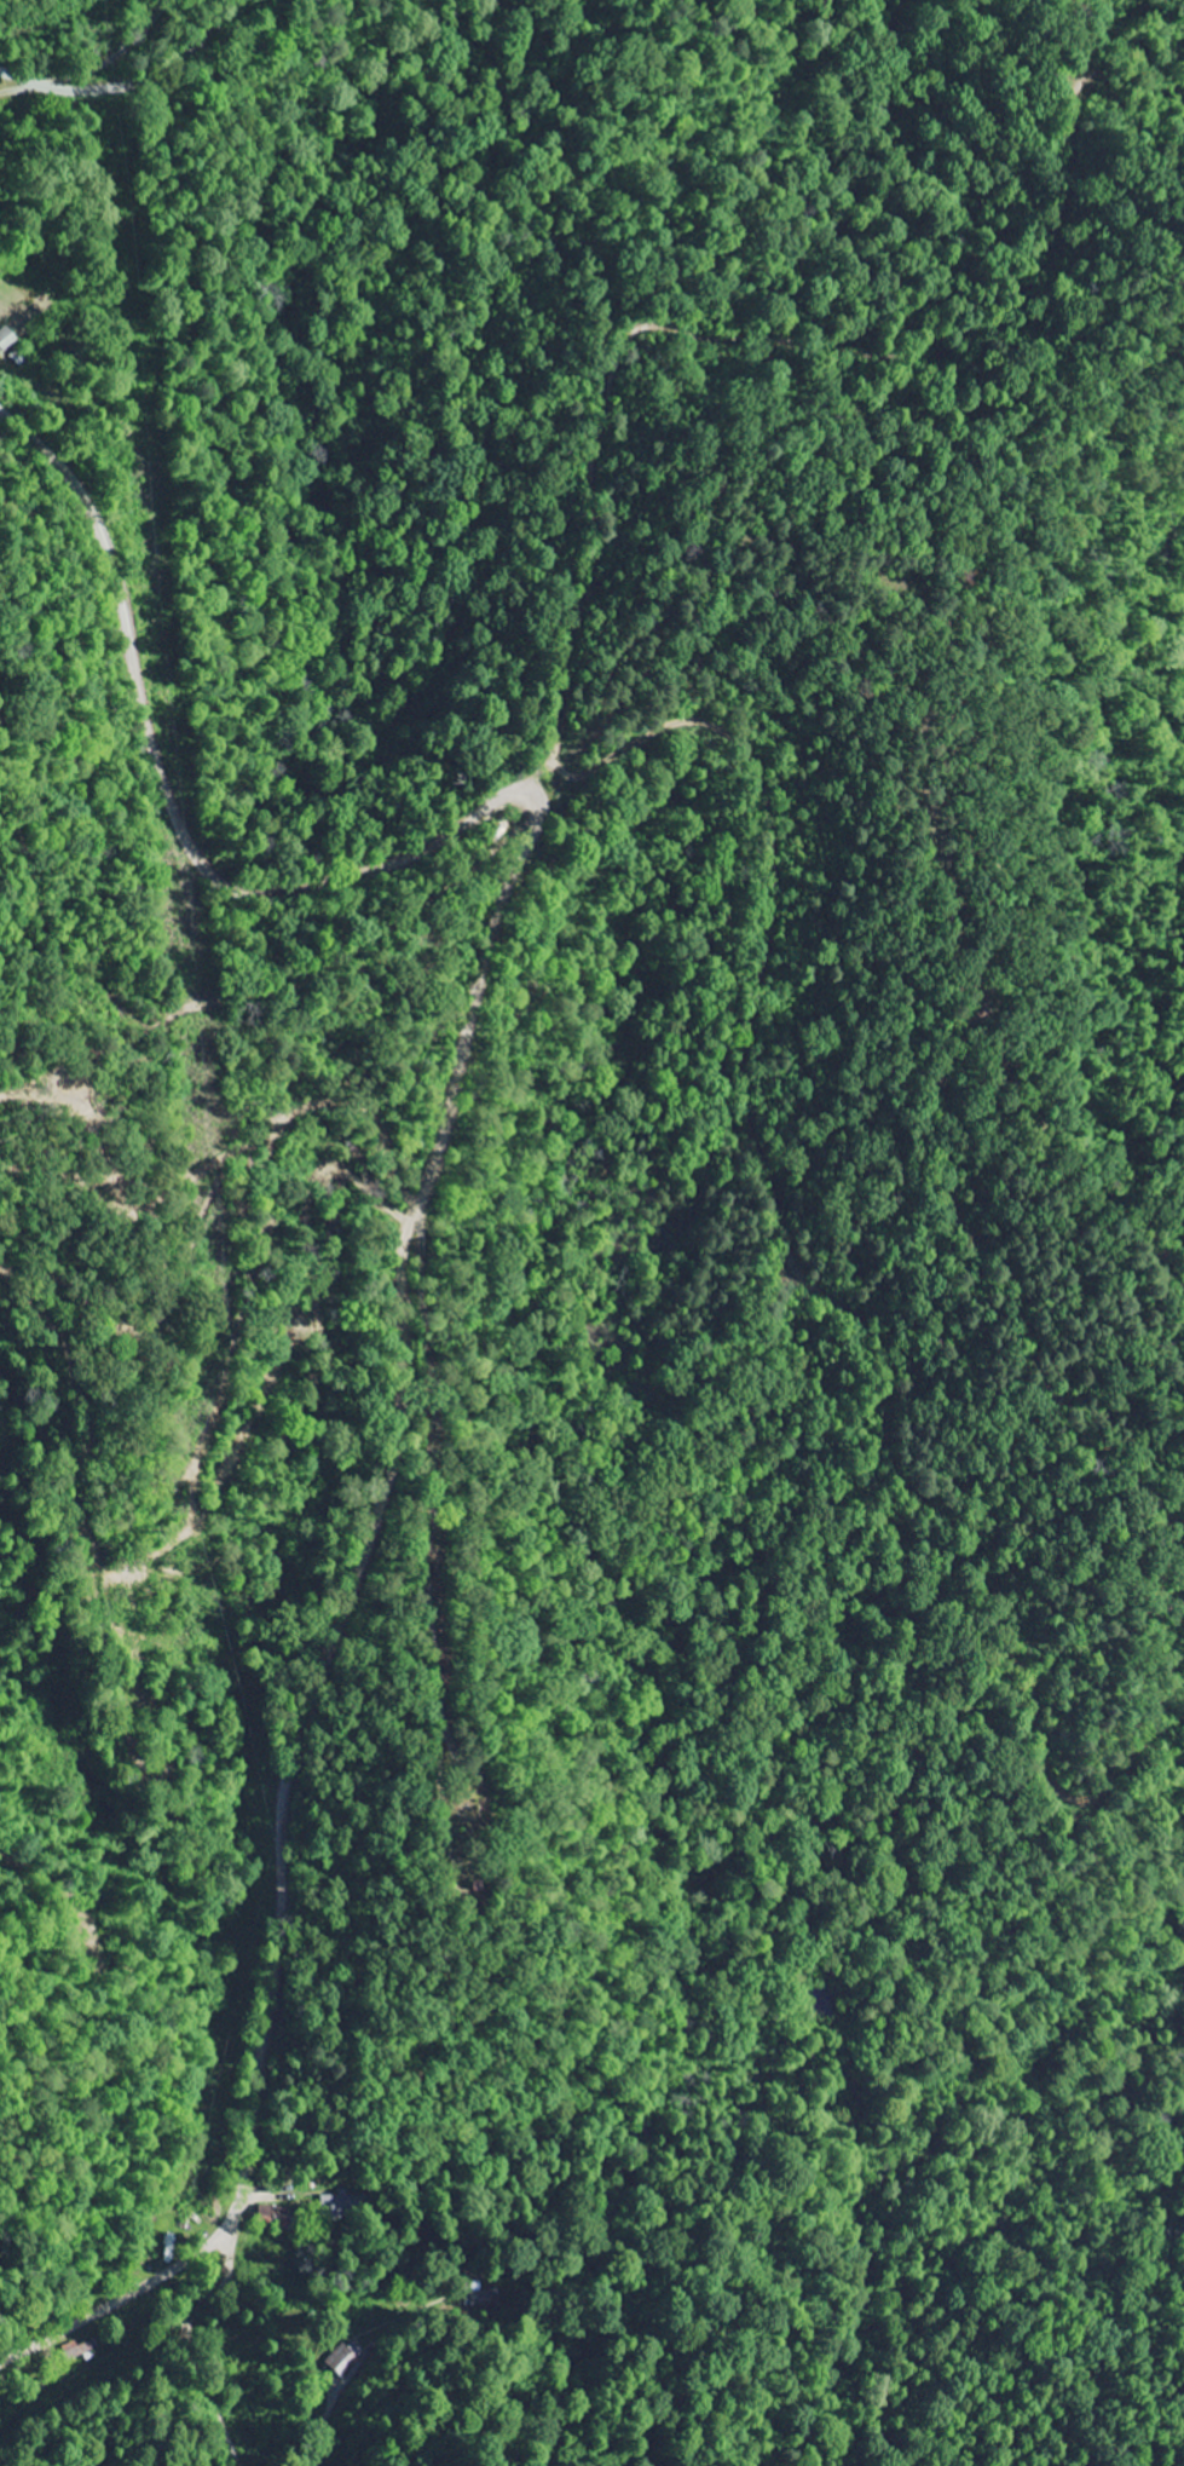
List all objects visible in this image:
road: (134, 82)
building: (6, 340)
road: (480, 967)
road: (421, 1300)
road: (259, 1919)
building: (336, 2208)
road: (79, 2321)
building: (346, 2358)
road: (166, 2373)

